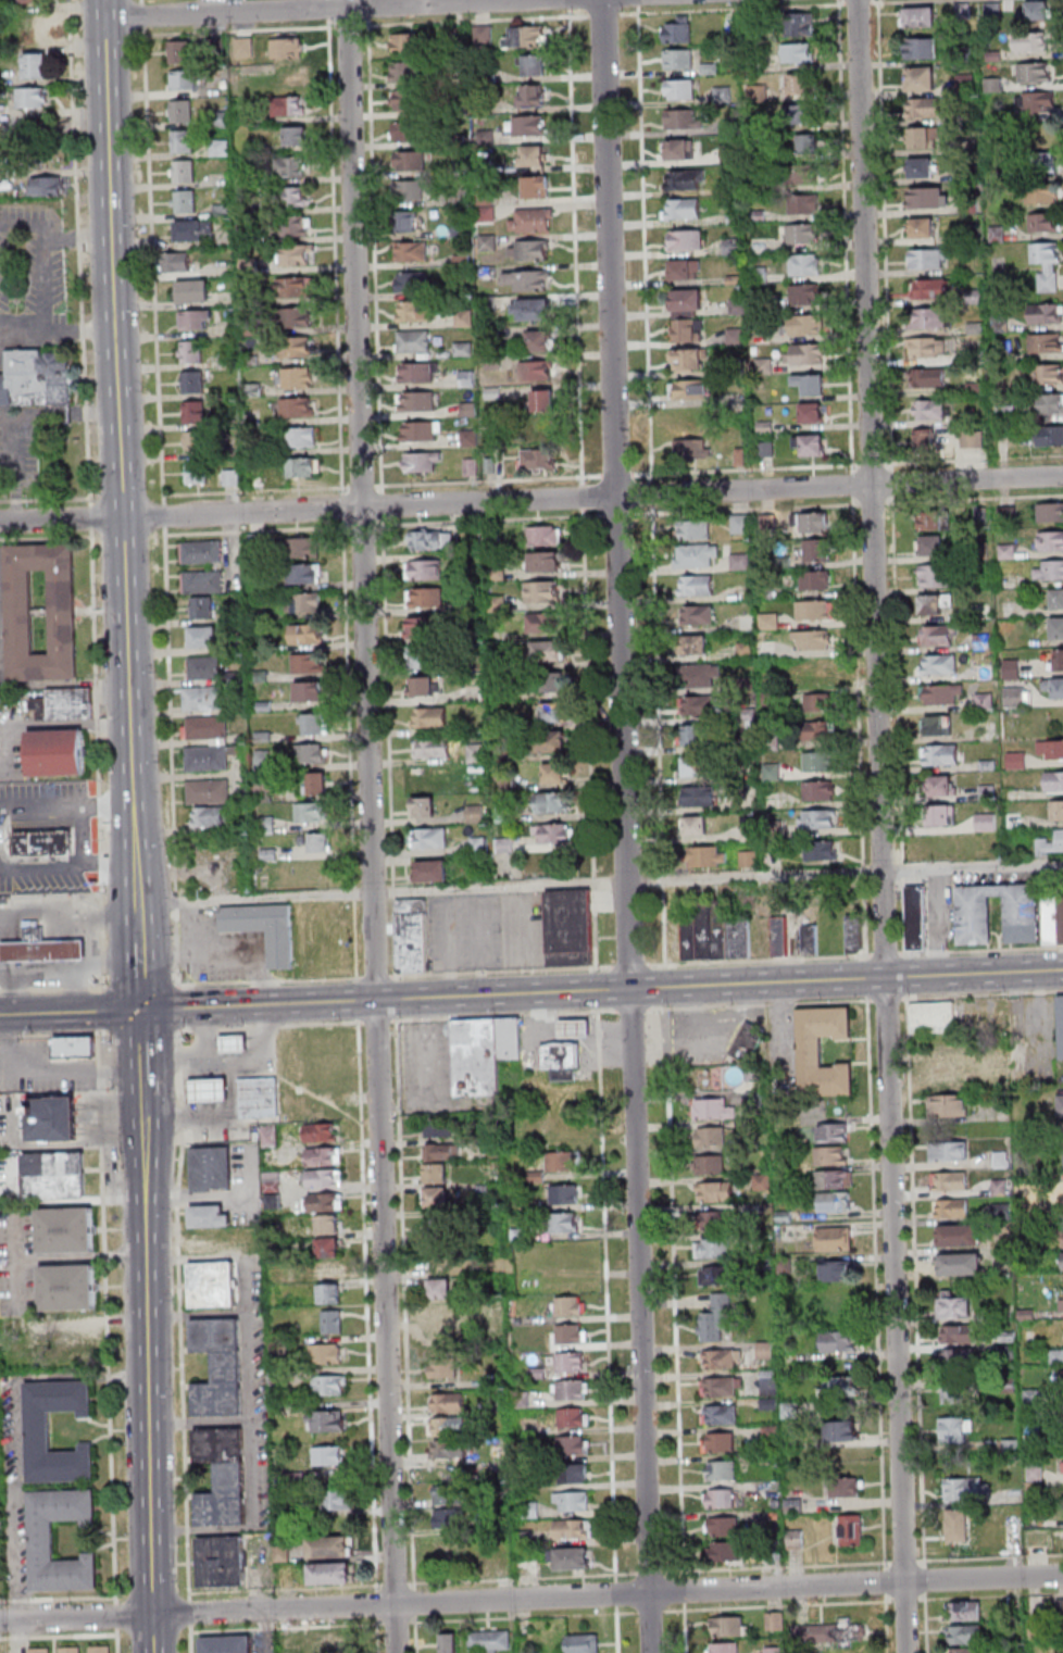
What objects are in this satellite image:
building: (36, 2)
road: (303, 9)
building: (1035, 11)
building: (917, 16)
building: (799, 25)
building: (35, 27)
building: (677, 30)
building: (525, 37)
building: (405, 42)
building: (1030, 42)
building: (286, 47)
building: (921, 49)
building: (179, 51)
building: (797, 52)
building: (677, 59)
building: (531, 65)
building: (38, 66)
building: (407, 71)
building: (1034, 73)
building: (1, 77)
building: (183, 79)
building: (918, 79)
building: (798, 84)
building: (678, 88)
building: (531, 96)
building: (35, 98)
building: (407, 99)
building: (1037, 103)
building: (287, 107)
building: (924, 107)
building: (180, 111)
building: (5, 112)
building: (799, 113)
building: (683, 118)
building: (527, 125)
building: (407, 130)
building: (297, 136)
building: (923, 137)
building: (183, 140)
building: (804, 145)
building: (677, 149)
building: (726, 154)
building: (531, 156)
building: (409, 161)
building: (1039, 161)
building: (293, 166)
building: (921, 167)
building: (183, 171)
building: (804, 175)
building: (683, 179)
building: (536, 186)
building: (49, 187)
building: (408, 190)
building: (1041, 191)
building: (293, 197)
building: (927, 198)
building: (184, 200)
building: (802, 204)
building: (680, 208)
building: (487, 215)
building: (408, 220)
building: (531, 220)
building: (1043, 222)
building: (295, 226)
building: (460, 228)
building: (921, 228)
building: (190, 230)
building: (801, 235)
building: (684, 239)
road: (50, 241)
building: (533, 250)
building: (411, 251)
road: (83, 252)
building: (295, 254)
road: (116, 259)
building: (926, 260)
building: (176, 261)
building: (1046, 264)
building: (803, 265)
building: (684, 268)
building: (758, 275)
building: (527, 280)
building: (411, 281)
road: (41, 286)
building: (296, 287)
building: (931, 289)
building: (192, 290)
building: (803, 296)
building: (531, 310)
building: (414, 311)
building: (1046, 313)
building: (686, 315)
building: (296, 317)
building: (463, 317)
building: (195, 318)
building: (928, 318)
building: (802, 326)
building: (974, 329)
road: (60, 331)
building: (413, 341)
building: (537, 341)
building: (1046, 342)
building: (295, 346)
building: (927, 348)
building: (190, 351)
building: (803, 355)
building: (686, 360)
building: (58, 367)
building: (537, 372)
building: (417, 373)
building: (1047, 374)
building: (295, 377)
building: (927, 378)
building: (191, 381)
building: (37, 384)
building: (809, 385)
building: (687, 390)
building: (5, 393)
building: (416, 401)
building: (543, 401)
building: (1042, 403)
building: (296, 406)
building: (928, 410)
building: (195, 411)
road: (97, 412)
building: (811, 412)
road: (62, 414)
road: (25, 415)
building: (62, 416)
building: (421, 430)
building: (1049, 435)
building: (297, 436)
building: (468, 438)
building: (923, 438)
building: (687, 439)
building: (971, 439)
building: (193, 441)
building: (809, 444)
building: (764, 449)
building: (537, 459)
building: (421, 461)
building: (302, 467)
road: (17, 468)
building: (196, 472)
road: (652, 484)
road: (162, 492)
road: (531, 500)
road: (46, 501)
building: (1049, 512)
road: (91, 517)
road: (585, 518)
building: (929, 521)
building: (814, 523)
building: (737, 524)
building: (692, 529)
building: (543, 535)
building: (429, 540)
building: (1050, 541)
building: (929, 546)
building: (304, 547)
building: (200, 551)
building: (815, 551)
building: (695, 554)
building: (543, 561)
building: (739, 561)
building: (423, 569)
building: (1048, 569)
building: (303, 573)
building: (934, 576)
building: (201, 581)
building: (813, 581)
building: (696, 585)
building: (540, 591)
building: (425, 597)
building: (1056, 599)
building: (304, 602)
building: (931, 604)
building: (200, 608)
building: (813, 612)
building: (22, 613)
building: (698, 615)
building: (746, 622)
building: (767, 622)
building: (541, 623)
building: (424, 627)
building: (1055, 627)
building: (305, 634)
building: (936, 635)
building: (202, 637)
building: (811, 641)
building: (692, 644)
building: (547, 651)
building: (425, 658)
road: (126, 660)
building: (1055, 660)
building: (308, 663)
building: (938, 664)
building: (204, 666)
building: (1010, 668)
building: (698, 676)
building: (553, 683)
road: (63, 685)
building: (423, 686)
building: (1053, 686)
building: (311, 690)
building: (939, 693)
building: (1014, 697)
building: (200, 698)
building: (818, 703)
building: (66, 706)
building: (698, 706)
building: (552, 713)
building: (426, 716)
road: (50, 723)
building: (313, 723)
building: (936, 725)
building: (204, 728)
building: (815, 731)
building: (697, 736)
building: (552, 741)
building: (430, 747)
building: (1050, 749)
building: (311, 753)
building: (475, 753)
building: (58, 754)
building: (939, 754)
road: (99, 759)
building: (207, 759)
building: (1015, 760)
building: (816, 762)
building: (692, 766)
building: (772, 773)
building: (553, 774)
building: (1053, 780)
building: (315, 782)
building: (941, 786)
building: (817, 791)
building: (207, 792)
building: (698, 796)
building: (551, 803)
road: (63, 805)
building: (422, 806)
building: (1055, 810)
building: (310, 812)
building: (474, 813)
building: (940, 815)
building: (208, 817)
building: (817, 819)
building: (1014, 821)
building: (985, 822)
road: (374, 826)
road: (628, 826)
building: (693, 826)
road: (883, 826)
road: (133, 834)
building: (552, 835)
road: (82, 836)
building: (428, 838)
road: (2, 841)
building: (43, 841)
building: (320, 842)
building: (1051, 843)
building: (503, 844)
building: (477, 846)
building: (821, 850)
building: (708, 857)
building: (748, 859)
road: (109, 864)
road: (41, 869)
building: (429, 871)
road: (599, 884)
building: (4, 901)
road: (136, 903)
road: (63, 916)
building: (915, 917)
road: (8, 918)
building: (974, 918)
building: (1053, 918)
road: (64, 927)
building: (568, 927)
building: (263, 928)
building: (854, 934)
building: (411, 935)
building: (713, 937)
building: (778, 937)
building: (808, 939)
building: (46, 949)
road: (65, 949)
road: (15, 950)
road: (66, 964)
road: (73, 969)
road: (138, 975)
road: (175, 982)
road: (140, 984)
road: (16, 986)
road: (54, 990)
road: (78, 990)
road: (601, 991)
road: (177, 1006)
traffic signals: (140, 1010)
road: (70, 1012)
building: (931, 1017)
building: (1060, 1025)
building: (574, 1028)
building: (748, 1041)
building: (235, 1042)
building: (76, 1045)
road: (141, 1045)
building: (811, 1050)
building: (482, 1052)
building: (561, 1059)
building: (998, 1061)
road: (50, 1068)
building: (948, 1072)
parking lot: (49, 1073)
building: (210, 1089)
building: (260, 1098)
building: (1059, 1104)
building: (947, 1106)
building: (712, 1111)
building: (49, 1120)
building: (437, 1127)
building: (320, 1131)
building: (831, 1132)
building: (268, 1135)
building: (709, 1137)
building: (948, 1151)
building: (441, 1152)
building: (831, 1155)
building: (323, 1156)
building: (270, 1157)
building: (559, 1162)
building: (709, 1164)
building: (210, 1168)
building: (435, 1173)
building: (54, 1174)
building: (322, 1177)
building: (834, 1178)
building: (949, 1181)
building: (271, 1189)
building: (713, 1191)
building: (563, 1193)
building: (1058, 1195)
building: (435, 1197)
building: (323, 1202)
building: (833, 1202)
building: (950, 1207)
building: (209, 1215)
building: (713, 1219)
building: (561, 1222)
building: (65, 1229)
building: (434, 1230)
building: (959, 1235)
building: (1062, 1237)
building: (834, 1238)
building: (199, 1242)
building: (711, 1248)
road: (82, 1255)
road: (222, 1255)
building: (1062, 1262)
building: (960, 1264)
road: (17, 1265)
building: (836, 1270)
building: (714, 1276)
building: (212, 1283)
building: (66, 1287)
building: (329, 1293)
building: (440, 1299)
building: (1061, 1301)
building: (568, 1306)
building: (953, 1306)
building: (715, 1318)
building: (332, 1320)
building: (956, 1333)
building: (441, 1335)
building: (568, 1335)
road: (179, 1339)
building: (87, 1340)
building: (837, 1340)
building: (765, 1350)
building: (326, 1353)
building: (720, 1358)
building: (956, 1358)
building: (570, 1363)
building: (218, 1366)
road: (151, 1367)
building: (441, 1367)
building: (1059, 1376)
road: (32, 1378)
building: (332, 1385)
building: (721, 1386)
building: (837, 1387)
building: (572, 1390)
building: (956, 1392)
building: (1031, 1398)
building: (447, 1402)
building: (718, 1414)
building: (573, 1416)
road: (249, 1418)
road: (200, 1419)
building: (325, 1420)
building: (448, 1426)
building: (38, 1430)
building: (840, 1430)
building: (953, 1430)
building: (717, 1441)
building: (574, 1444)
building: (448, 1448)
building: (327, 1456)
building: (1062, 1465)
building: (720, 1469)
building: (574, 1473)
building: (222, 1476)
building: (845, 1487)
building: (964, 1489)
building: (447, 1494)
building: (718, 1498)
building: (337, 1500)
building: (572, 1501)
building: (448, 1517)
building: (722, 1526)
building: (955, 1526)
building: (2, 1528)
building: (573, 1528)
building: (850, 1529)
building: (42, 1538)
building: (796, 1539)
building: (330, 1546)
building: (722, 1551)
building: (445, 1552)
road: (17, 1555)
building: (571, 1558)
building: (220, 1561)
building: (329, 1573)
road: (530, 1598)
road: (651, 1610)
building: (964, 1610)
building: (774, 1620)
road: (120, 1623)
building: (729, 1626)
road: (265, 1631)
building: (830, 1633)
building: (963, 1633)
road: (60, 1637)
road: (120, 1641)
building: (489, 1641)
building: (448, 1642)
building: (225, 1643)
building: (581, 1643)
building: (726, 1648)
building: (72, 1650)
building: (102, 1650)
building: (773, 1650)
building: (964, 1650)
building: (41, 1651)
building: (2, 1652)

